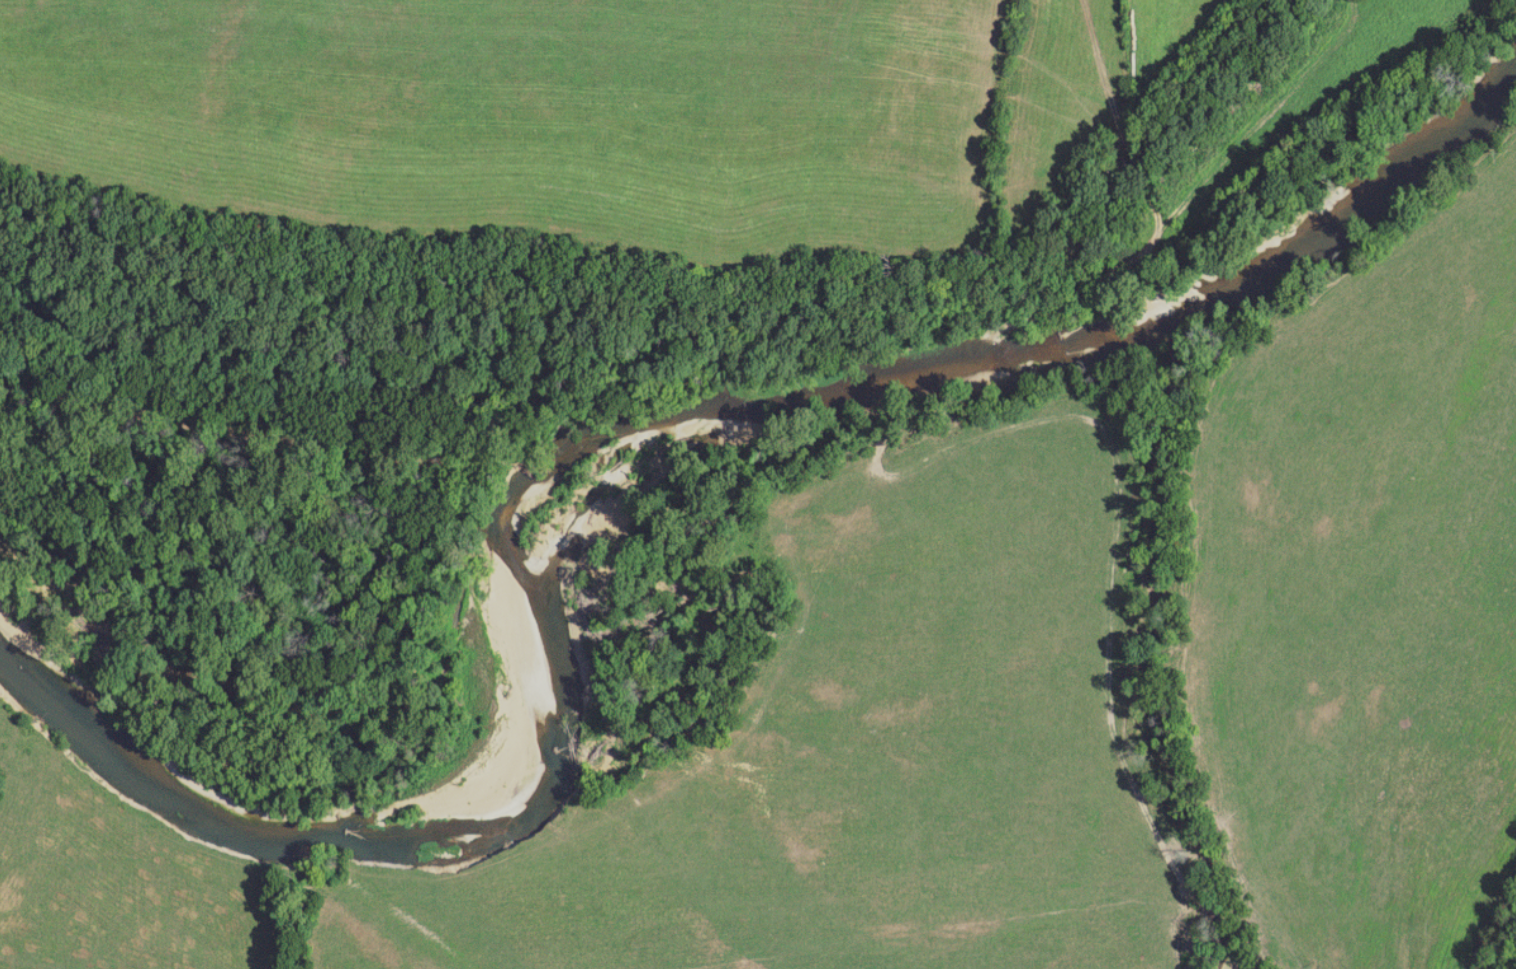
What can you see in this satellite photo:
river: (583, 469)

